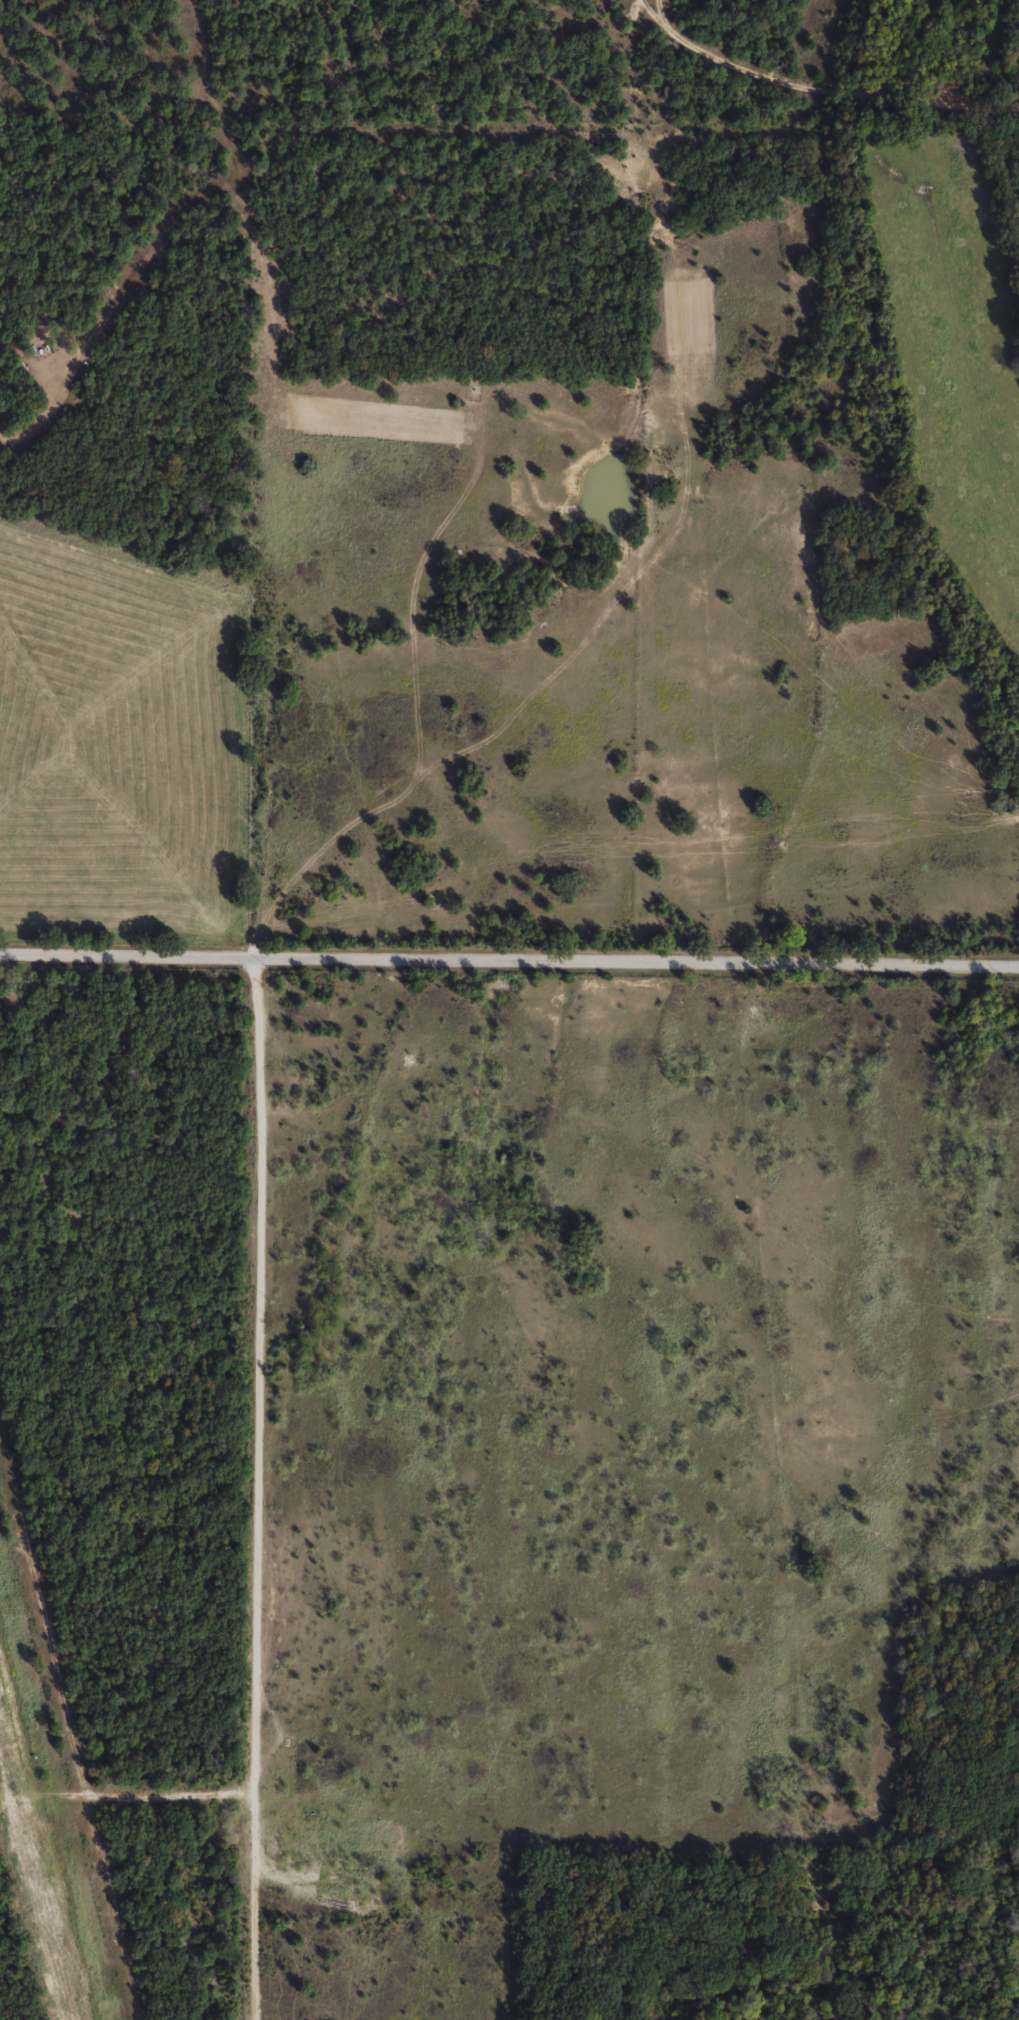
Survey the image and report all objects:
road: (654, 12)
road: (663, 12)
road: (834, 90)
road: (509, 961)
road: (254, 1500)

